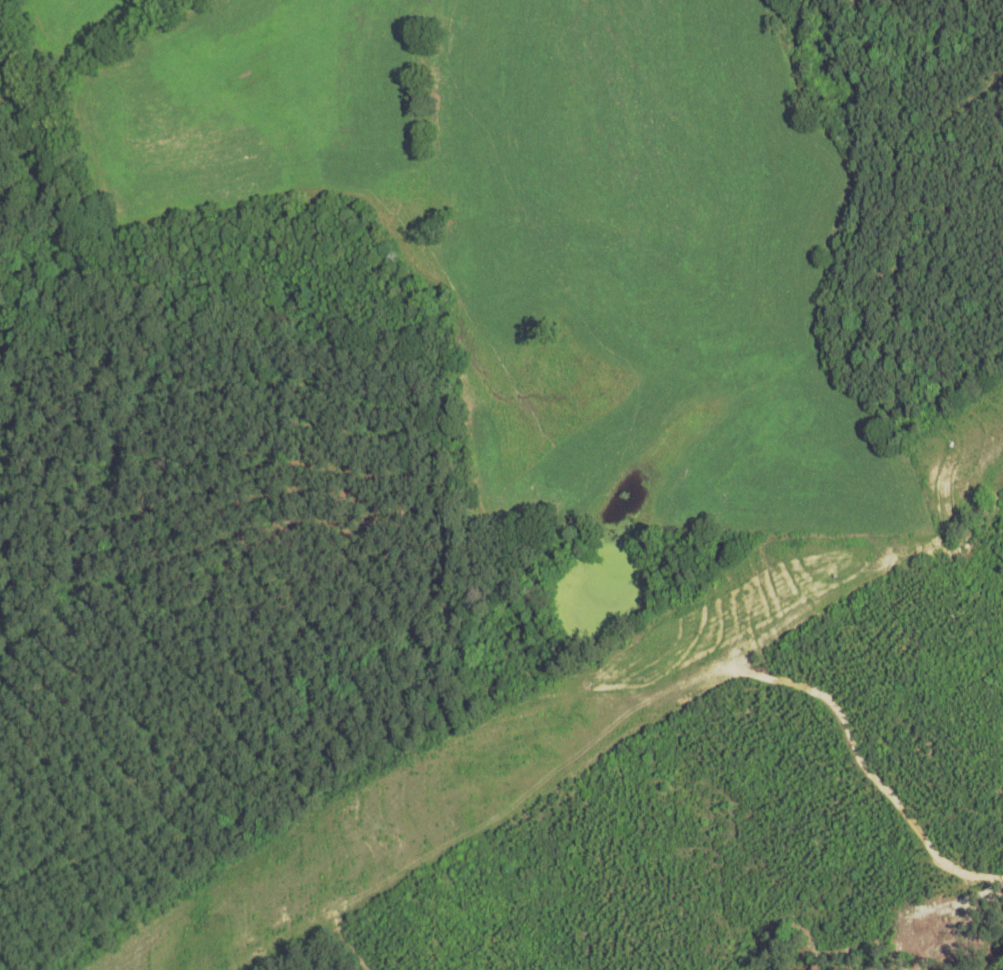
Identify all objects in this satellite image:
road: (800, 684)

